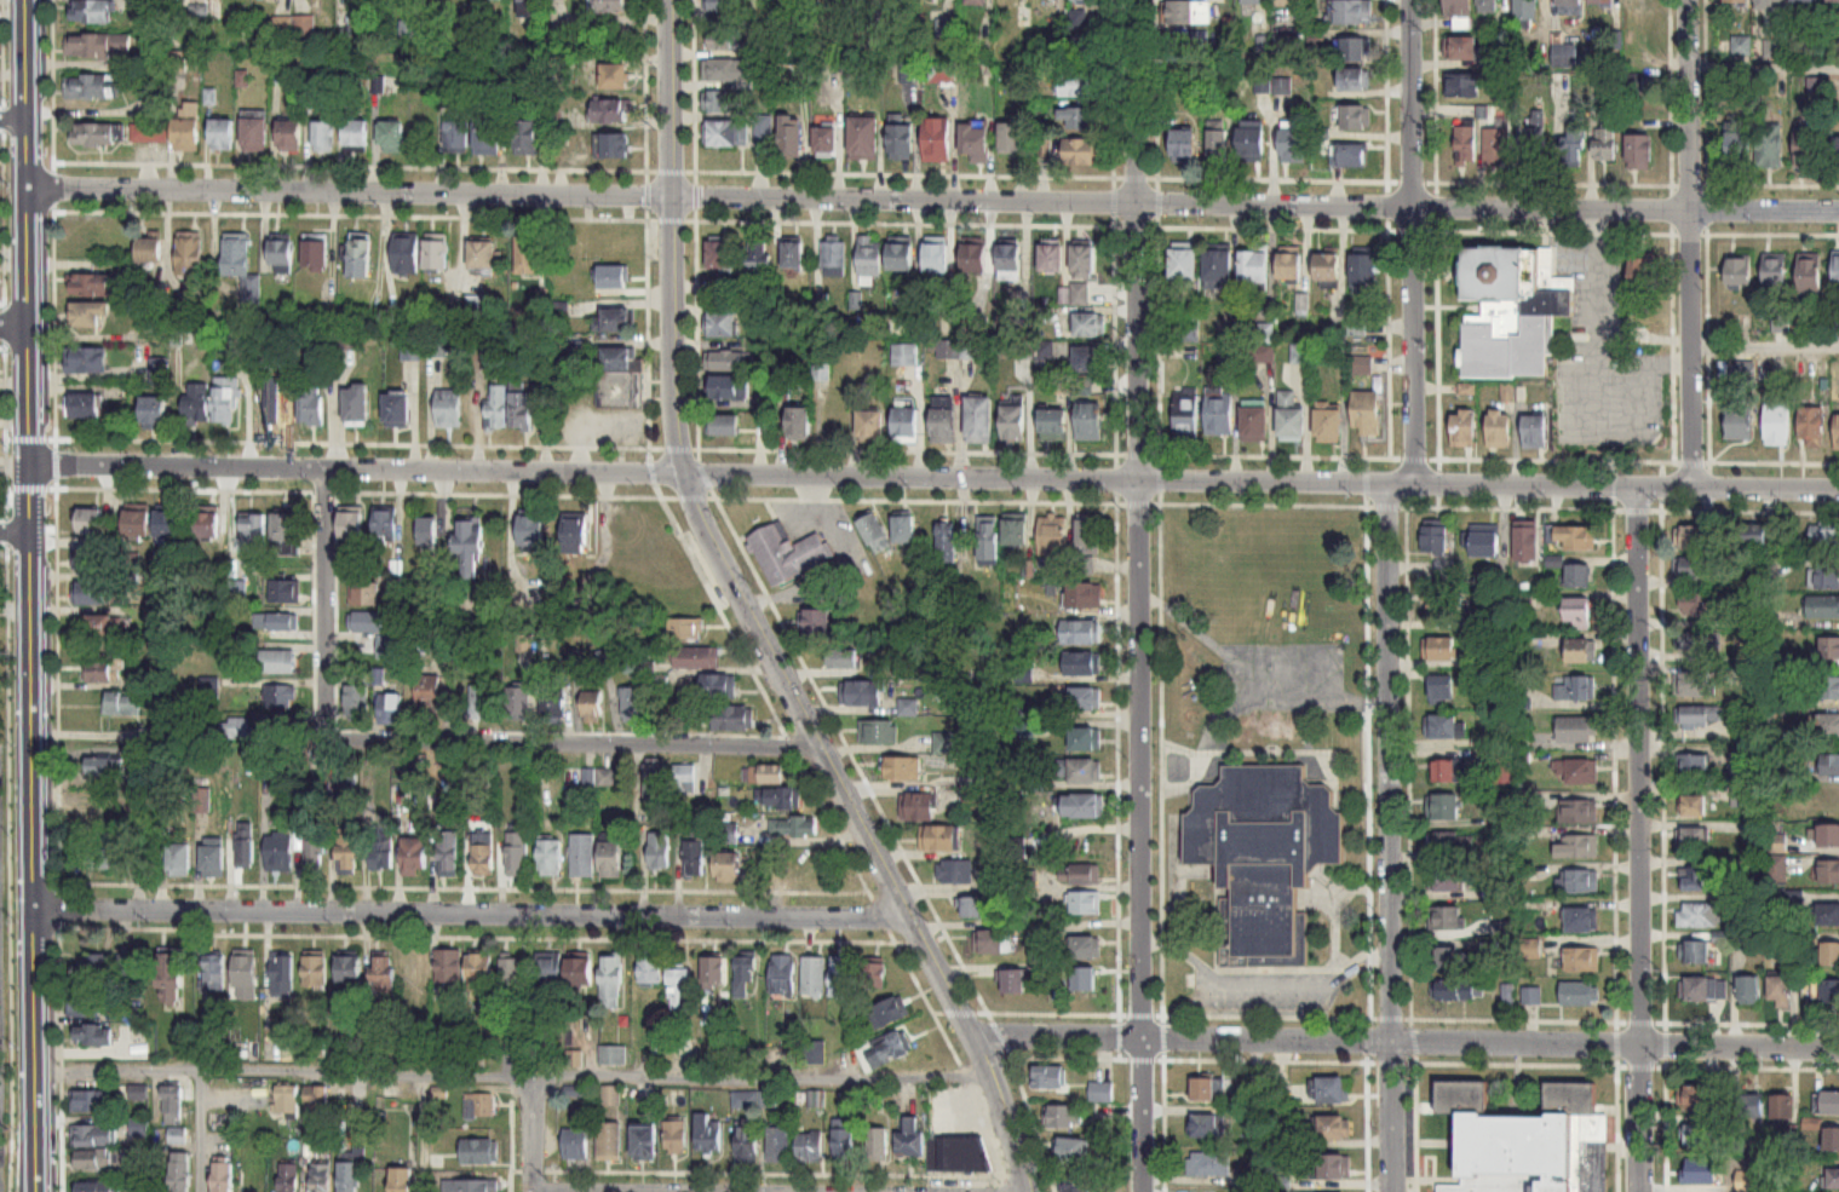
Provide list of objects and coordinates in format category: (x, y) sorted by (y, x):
building: (937, 0)
building: (1088, 0)
building: (1801, 0)
building: (1249, 1)
building: (1286, 1)
building: (1735, 1)
building: (1769, 1)
building: (975, 2)
building: (1600, 2)
building: (1833, 2)
building: (613, 6)
building: (722, 6)
building: (1489, 6)
building: (1456, 7)
building: (1570, 7)
building: (529, 11)
building: (1352, 11)
building: (1525, 11)
building: (91, 12)
building: (1186, 13)
building: (720, 45)
building: (1742, 46)
building: (98, 47)
building: (1460, 48)
building: (1182, 50)
building: (1354, 51)
building: (1564, 56)
road: (1763, 63)
building: (728, 70)
building: (614, 77)
building: (1355, 81)
building: (1079, 86)
building: (1464, 86)
building: (90, 87)
building: (723, 102)
building: (609, 113)
road: (12, 119)
building: (1356, 120)
building: (1084, 121)
building: (186, 131)
building: (149, 133)
building: (253, 134)
building: (355, 136)
building: (720, 136)
building: (862, 136)
building: (94, 137)
building: (222, 137)
building: (288, 138)
building: (323, 138)
building: (456, 138)
building: (391, 139)
building: (525, 139)
building: (789, 139)
building: (485, 140)
building: (1010, 140)
building: (823, 142)
building: (936, 142)
building: (609, 143)
building: (975, 143)
building: (1251, 143)
building: (901, 144)
building: (1293, 145)
building: (1466, 145)
building: (1605, 145)
building: (1218, 146)
building: (1574, 146)
building: (1769, 146)
building: (1184, 148)
building: (1496, 148)
building: (1808, 149)
building: (1739, 152)
building: (1081, 154)
building: (1639, 154)
building: (1835, 154)
building: (1350, 157)
road: (1504, 180)
road: (1754, 184)
road: (932, 198)
road: (1410, 241)
road: (1688, 243)
building: (149, 252)
building: (719, 252)
building: (189, 253)
building: (315, 253)
building: (404, 254)
building: (435, 254)
building: (481, 254)
building: (758, 254)
building: (791, 254)
building: (282, 255)
building: (525, 255)
building: (868, 255)
building: (900, 255)
building: (358, 257)
building: (935, 257)
building: (972, 257)
building: (1048, 257)
building: (833, 258)
building: (1081, 258)
building: (1008, 263)
building: (241, 265)
building: (1218, 266)
building: (1253, 266)
building: (1289, 266)
building: (1326, 266)
building: (1834, 266)
building: (1184, 267)
building: (1363, 267)
building: (1739, 270)
building: (1775, 272)
building: (1643, 273)
building: (611, 275)
building: (1810, 275)
building: (93, 284)
building: (1074, 294)
building: (1512, 309)
building: (88, 313)
building: (610, 318)
building: (720, 323)
building: (1088, 324)
road: (15, 326)
road: (1596, 329)
road: (1707, 345)
road: (1764, 345)
building: (436, 346)
building: (949, 349)
building: (904, 353)
building: (1300, 355)
building: (1087, 357)
building: (86, 358)
building: (726, 359)
building: (159, 369)
building: (617, 379)
building: (728, 386)
building: (195, 402)
building: (84, 403)
building: (356, 403)
building: (311, 404)
building: (225, 405)
building: (496, 407)
building: (396, 408)
building: (448, 408)
building: (153, 409)
building: (521, 410)
building: (1366, 413)
building: (1185, 415)
building: (1288, 415)
building: (1218, 416)
building: (942, 419)
building: (978, 419)
building: (904, 421)
building: (1012, 421)
building: (1088, 421)
building: (798, 422)
building: (1253, 422)
building: (1739, 422)
building: (1775, 422)
building: (1811, 422)
building: (723, 424)
building: (869, 424)
building: (1052, 424)
building: (1326, 424)
building: (1461, 427)
building: (1498, 427)
building: (1533, 430)
building: (1837, 431)
road: (1547, 457)
road: (936, 476)
road: (1058, 501)
building: (90, 519)
building: (137, 519)
building: (168, 523)
building: (205, 523)
building: (350, 525)
building: (385, 525)
building: (903, 528)
building: (253, 529)
building: (283, 529)
building: (531, 529)
building: (1015, 530)
building: (426, 531)
building: (1824, 531)
building: (874, 532)
road: (17, 534)
building: (1755, 534)
building: (574, 535)
building: (1051, 535)
building: (1087, 536)
building: (1693, 536)
building: (987, 537)
building: (1575, 537)
building: (1435, 539)
building: (946, 541)
building: (1485, 543)
building: (1527, 543)
building: (470, 546)
building: (787, 553)
building: (90, 555)
building: (1695, 565)
building: (1577, 575)
building: (1823, 576)
building: (285, 591)
building: (88, 592)
building: (364, 592)
building: (1085, 594)
road: (34, 595)
road: (1137, 595)
building: (524, 603)
building: (1697, 605)
building: (1823, 606)
building: (1577, 612)
road: (755, 618)
building: (276, 621)
building: (368, 621)
building: (817, 621)
building: (100, 626)
building: (684, 629)
building: (1080, 630)
building: (1696, 639)
building: (1829, 647)
building: (1441, 649)
building: (1579, 650)
building: (696, 658)
building: (841, 658)
building: (277, 661)
building: (1081, 662)
building: (105, 668)
building: (1694, 684)
building: (718, 687)
building: (1829, 687)
building: (1575, 689)
building: (209, 691)
building: (429, 692)
building: (861, 692)
building: (1442, 693)
building: (281, 696)
building: (1081, 697)
building: (357, 702)
building: (482, 702)
building: (519, 703)
building: (122, 704)
building: (633, 704)
building: (552, 707)
building: (390, 708)
building: (908, 708)
building: (593, 713)
building: (1702, 715)
building: (732, 719)
building: (1831, 725)
building: (1442, 726)
building: (237, 729)
building: (1576, 730)
building: (879, 732)
building: (1084, 737)
road: (447, 741)
building: (944, 743)
building: (1829, 764)
building: (270, 765)
building: (1693, 765)
building: (104, 767)
building: (903, 768)
building: (1084, 771)
building: (1449, 772)
building: (1579, 772)
building: (771, 774)
building: (349, 778)
building: (599, 778)
building: (684, 779)
building: (655, 781)
building: (1741, 795)
building: (780, 799)
building: (1084, 805)
building: (918, 806)
building: (1691, 806)
building: (1826, 806)
building: (1443, 807)
building: (1576, 808)
building: (794, 828)
building: (1828, 835)
road: (1389, 836)
road: (1639, 837)
building: (939, 839)
building: (1691, 839)
building: (123, 843)
building: (314, 845)
building: (1576, 845)
building: (383, 848)
building: (245, 851)
building: (278, 851)
building: (659, 851)
building: (347, 853)
building: (449, 853)
building: (482, 854)
building: (517, 854)
building: (414, 856)
building: (582, 856)
building: (1263, 856)
building: (550, 857)
building: (695, 858)
building: (610, 859)
building: (1450, 859)
building: (178, 860)
building: (212, 860)
building: (800, 865)
building: (728, 868)
building: (1829, 871)
building: (954, 873)
building: (1085, 874)
building: (1700, 880)
building: (1577, 881)
building: (1086, 902)
building: (973, 908)
park: (5, 910)
building: (1828, 914)
road: (478, 916)
building: (1699, 916)
building: (1446, 917)
building: (1581, 920)
building: (994, 941)
building: (1086, 946)
building: (1696, 952)
building: (1831, 954)
building: (1581, 957)
building: (1454, 958)
building: (126, 964)
building: (448, 966)
building: (478, 967)
building: (651, 969)
building: (713, 971)
building: (213, 972)
building: (315, 972)
building: (548, 972)
building: (579, 972)
building: (383, 974)
building: (418, 974)
building: (245, 975)
building: (785, 975)
building: (874, 975)
building: (282, 977)
building: (347, 977)
building: (168, 978)
building: (815, 978)
building: (1085, 978)
building: (746, 979)
building: (513, 980)
building: (611, 980)
building: (843, 981)
building: (1016, 981)
road: (1262, 985)
building: (93, 987)
building: (1702, 987)
building: (679, 989)
building: (1749, 990)
building: (1827, 990)
building: (1459, 991)
building: (1576, 991)
building: (1780, 991)
building: (1531, 996)
building: (892, 1012)
road: (1662, 1020)
building: (92, 1035)
road: (1408, 1043)
building: (315, 1047)
building: (688, 1047)
building: (185, 1050)
building: (816, 1053)
building: (889, 1053)
building: (613, 1055)
building: (575, 1059)
road: (516, 1075)
building: (1048, 1077)
building: (1203, 1089)
building: (1333, 1089)
building: (138, 1093)
building: (1102, 1093)
building: (611, 1094)
building: (1694, 1096)
building: (287, 1099)
building: (751, 1099)
building: (90, 1101)
building: (172, 1101)
building: (317, 1102)
building: (1831, 1104)
building: (479, 1105)
building: (1752, 1105)
building: (1781, 1107)
building: (1063, 1116)
building: (1206, 1125)
building: (1333, 1127)
building: (138, 1128)
road: (201, 1130)
building: (708, 1133)
road: (535, 1134)
building: (94, 1135)
building: (1696, 1135)
building: (177, 1136)
building: (674, 1136)
building: (912, 1138)
building: (1832, 1139)
building: (609, 1140)
building: (644, 1141)
building: (1528, 1141)
building: (747, 1142)
building: (844, 1142)
building: (575, 1144)
building: (780, 1145)
building: (879, 1145)
building: (810, 1146)
building: (1073, 1150)
building: (481, 1152)
building: (964, 1153)
building: (98, 1159)
building: (1208, 1164)
building: (1335, 1165)
building: (179, 1171)
building: (222, 1176)
building: (349, 1176)
building: (288, 1177)
building: (321, 1177)
building: (1833, 1177)
building: (401, 1179)
building: (1075, 1182)
building: (93, 1186)
building: (467, 1186)

